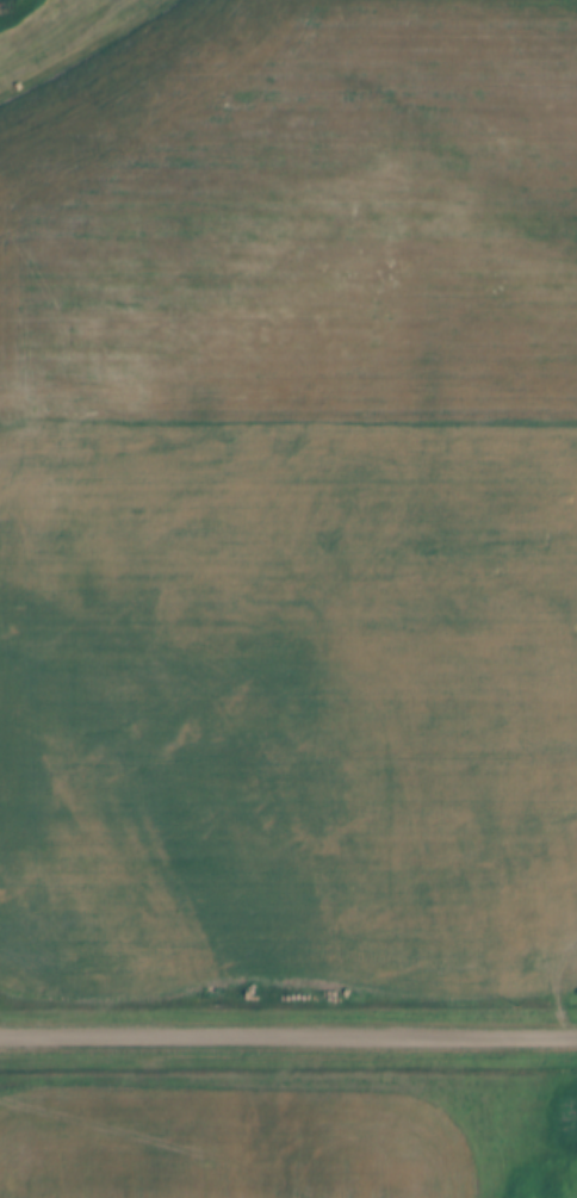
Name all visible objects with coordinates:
road: (288, 1039)

